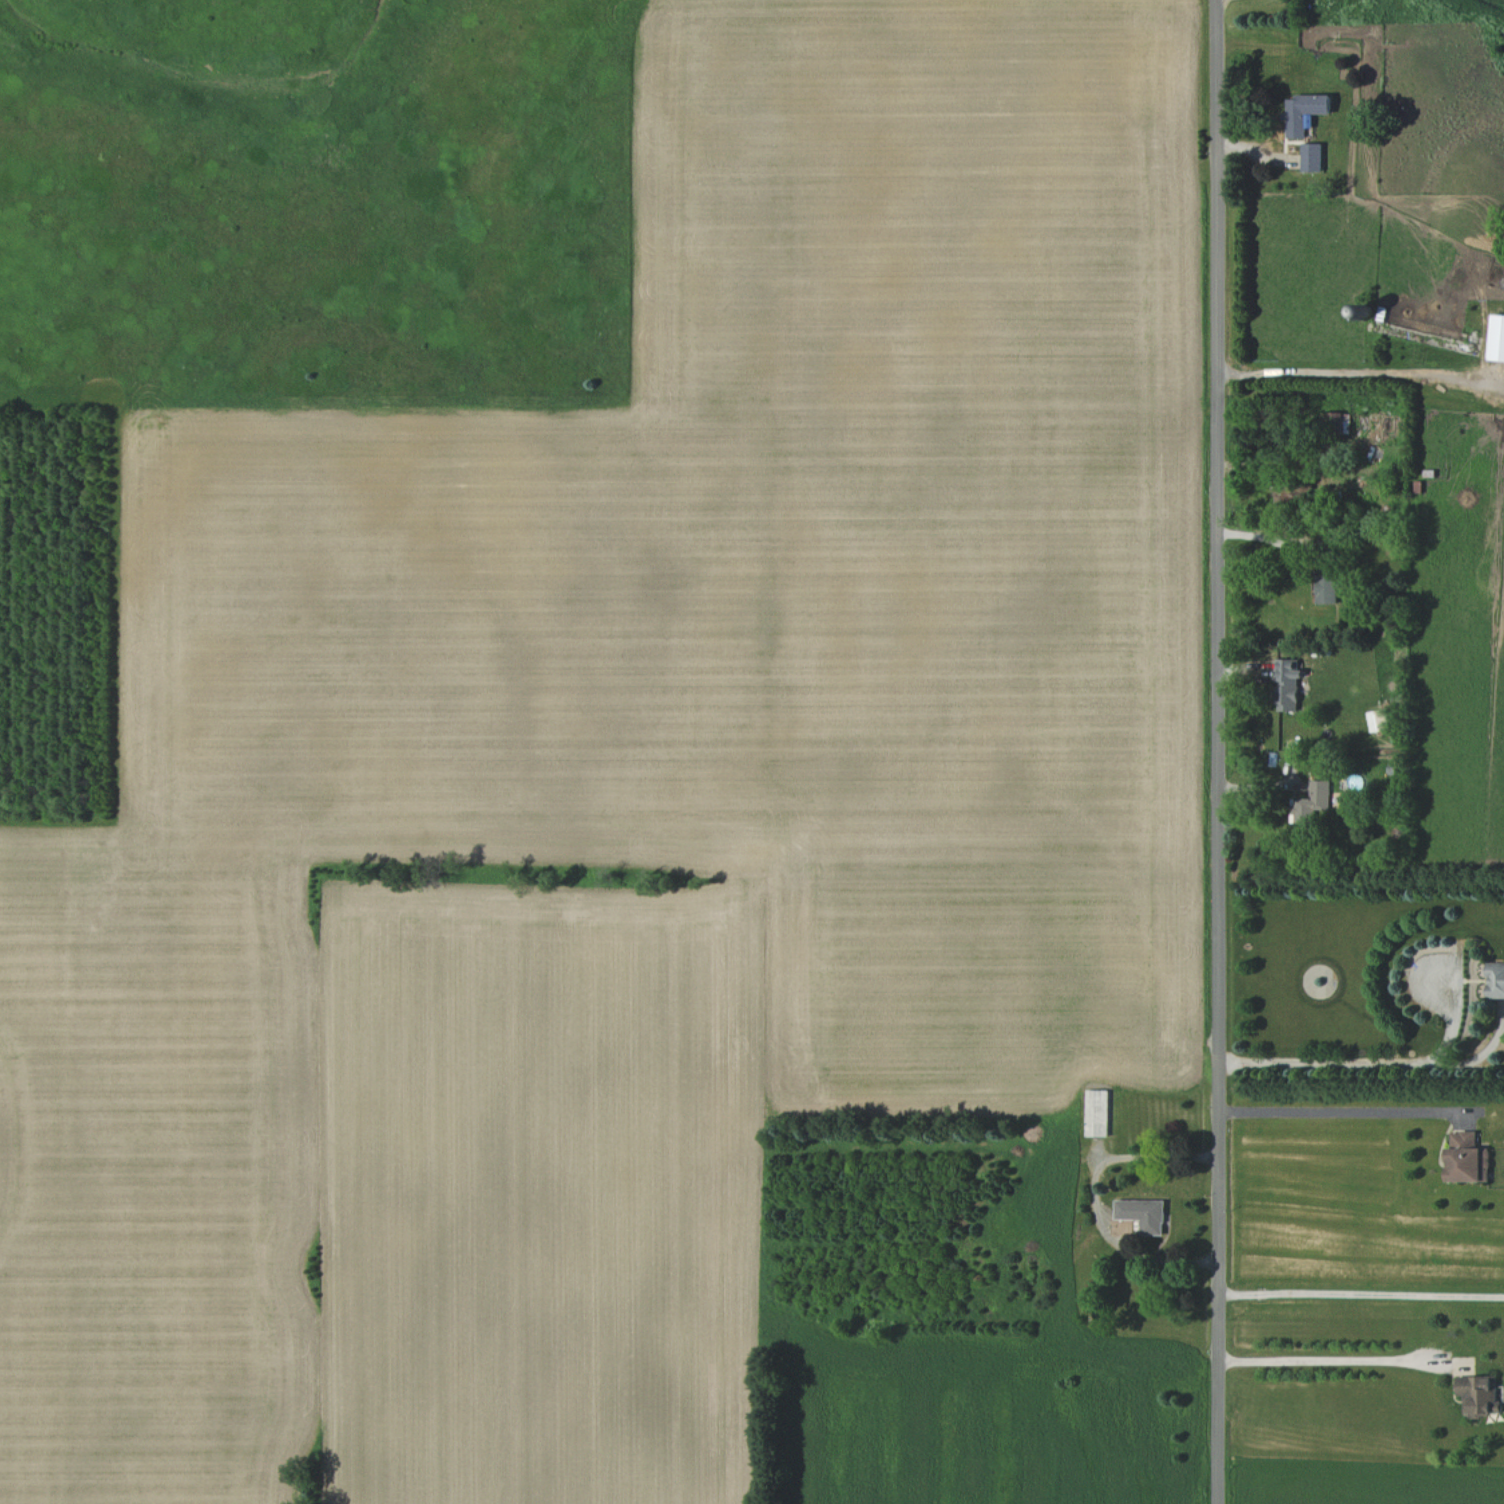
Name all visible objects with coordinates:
building: (1304, 111)
building: (1312, 155)
building: (1497, 337)
road: (1351, 373)
building: (1328, 590)
building: (1290, 682)
building: (1378, 718)
road: (1216, 751)
building: (1312, 800)
building: (1496, 978)
road: (1364, 1061)
road: (1331, 1110)
building: (1098, 1111)
building: (1468, 1157)
road: (1097, 1199)
building: (1144, 1213)
road: (1360, 1293)
road: (1316, 1359)
building: (1482, 1392)

